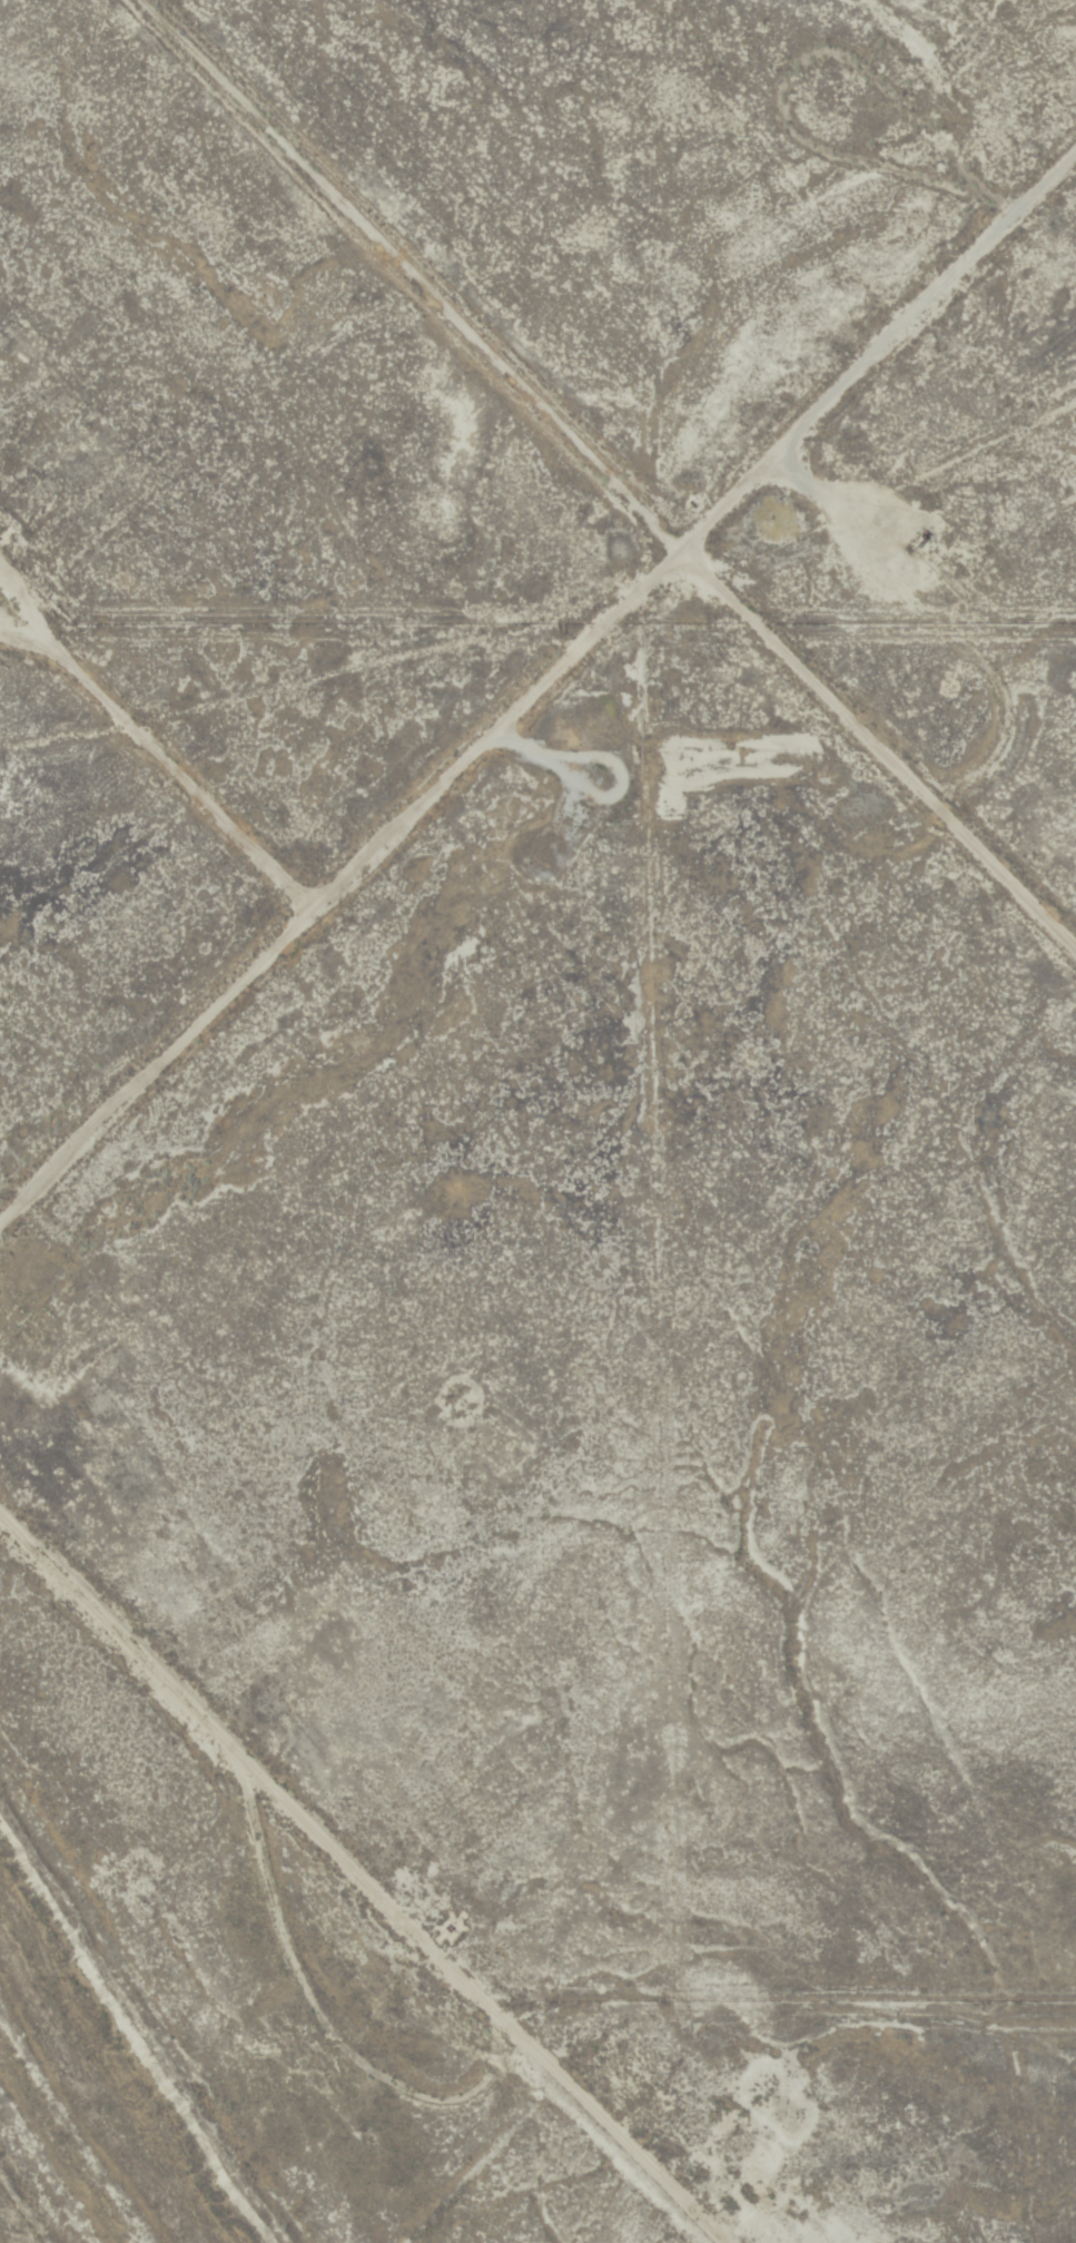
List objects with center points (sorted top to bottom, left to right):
road: (606, 479)
road: (536, 687)
road: (165, 750)
road: (389, 1871)
road: (162, 1990)

